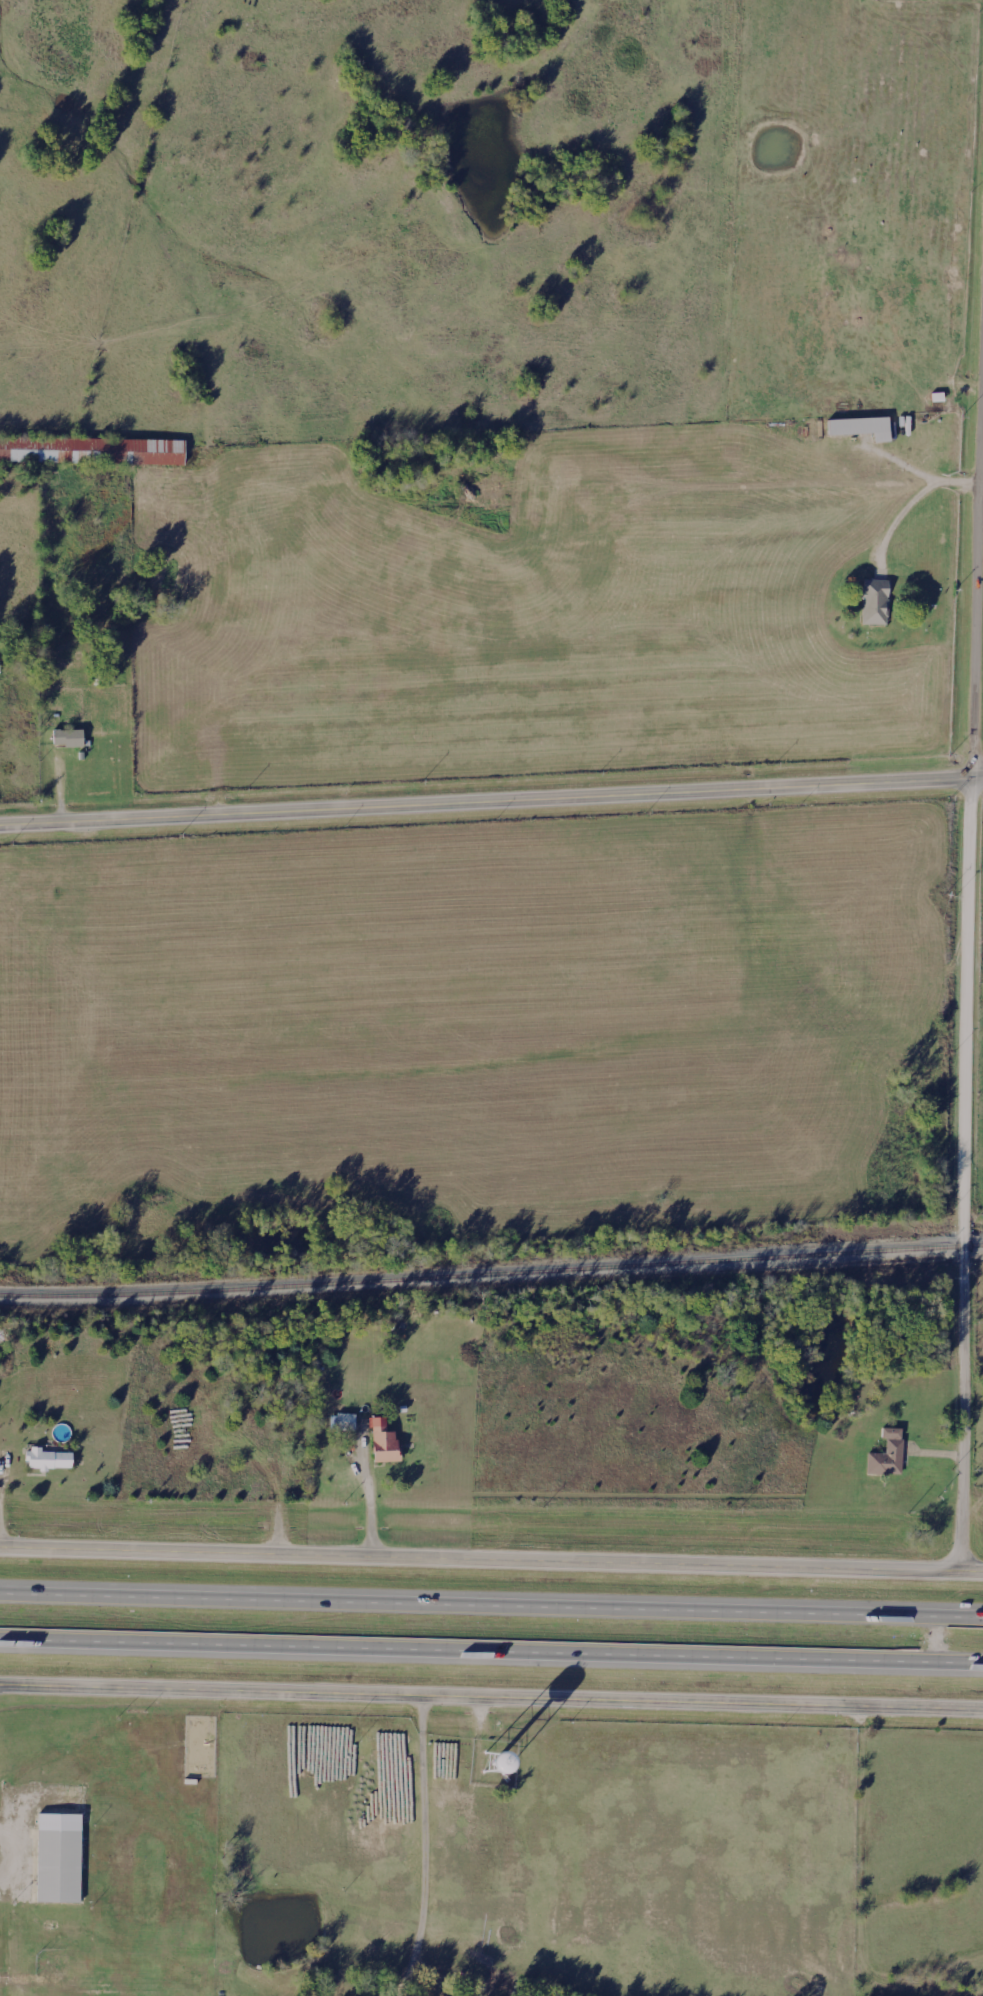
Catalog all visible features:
building: (858, 430)
building: (93, 452)
road: (909, 464)
road: (982, 481)
road: (911, 499)
building: (870, 605)
building: (64, 741)
road: (491, 803)
road: (967, 995)
railway: (491, 1276)
building: (342, 1426)
building: (380, 1448)
building: (884, 1457)
building: (44, 1461)
road: (369, 1494)
road: (491, 1558)
road: (491, 1607)
road: (936, 1642)
road: (491, 1653)
road: (491, 1698)
water tower: (497, 1750)
road: (426, 1848)
building: (54, 1868)
road: (861, 1894)

